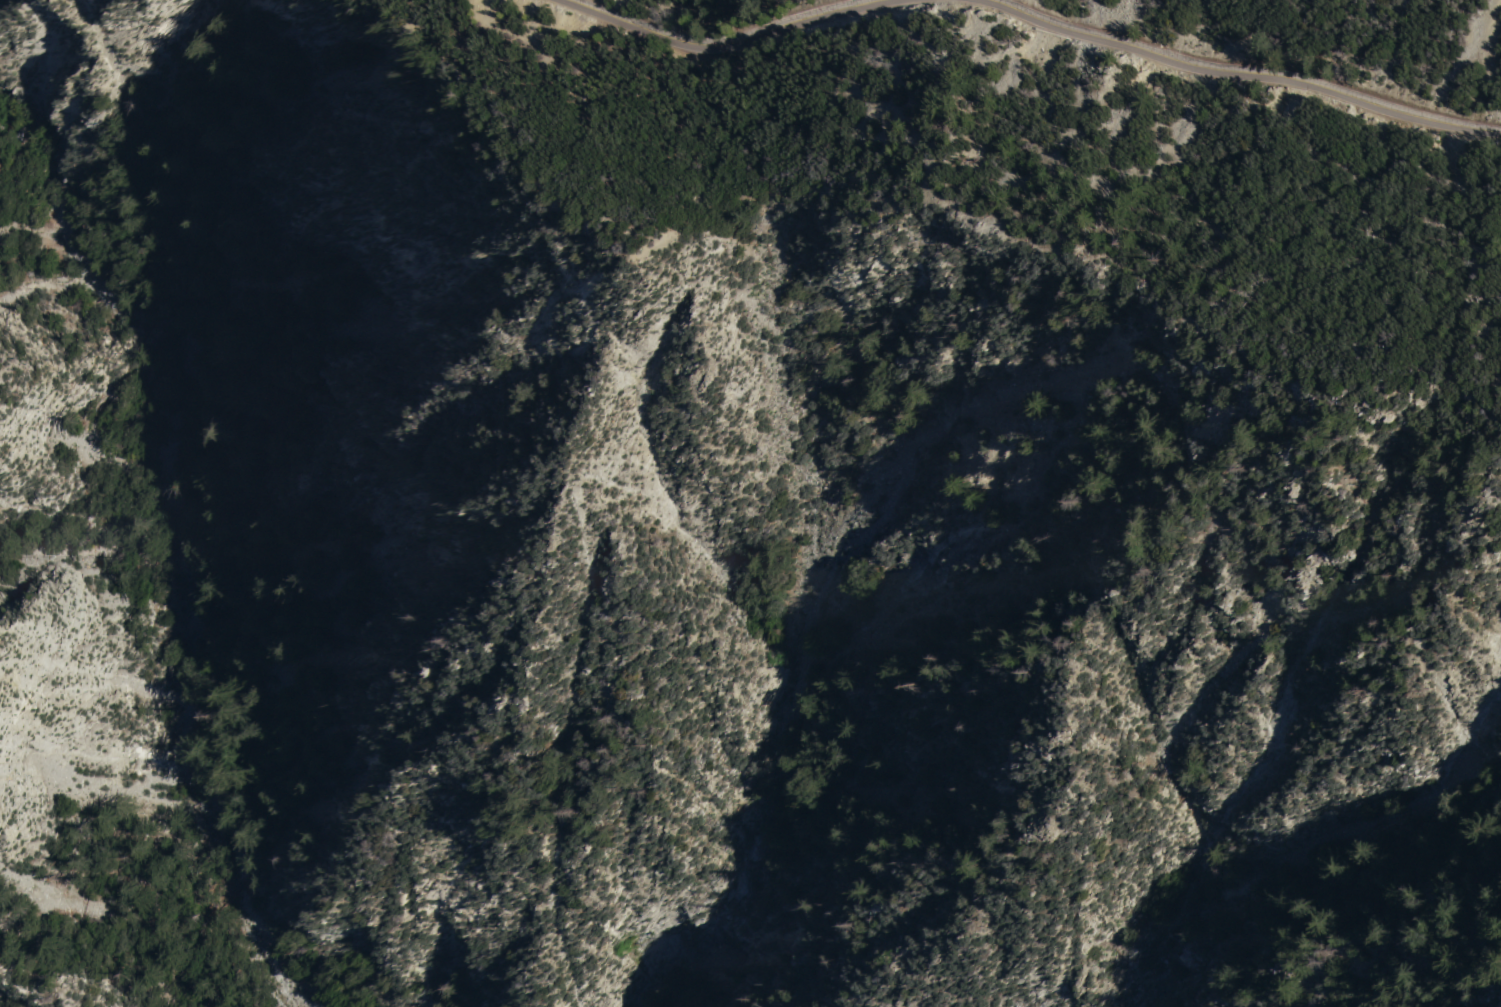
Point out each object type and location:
road: (718, 44)
road: (1241, 73)

